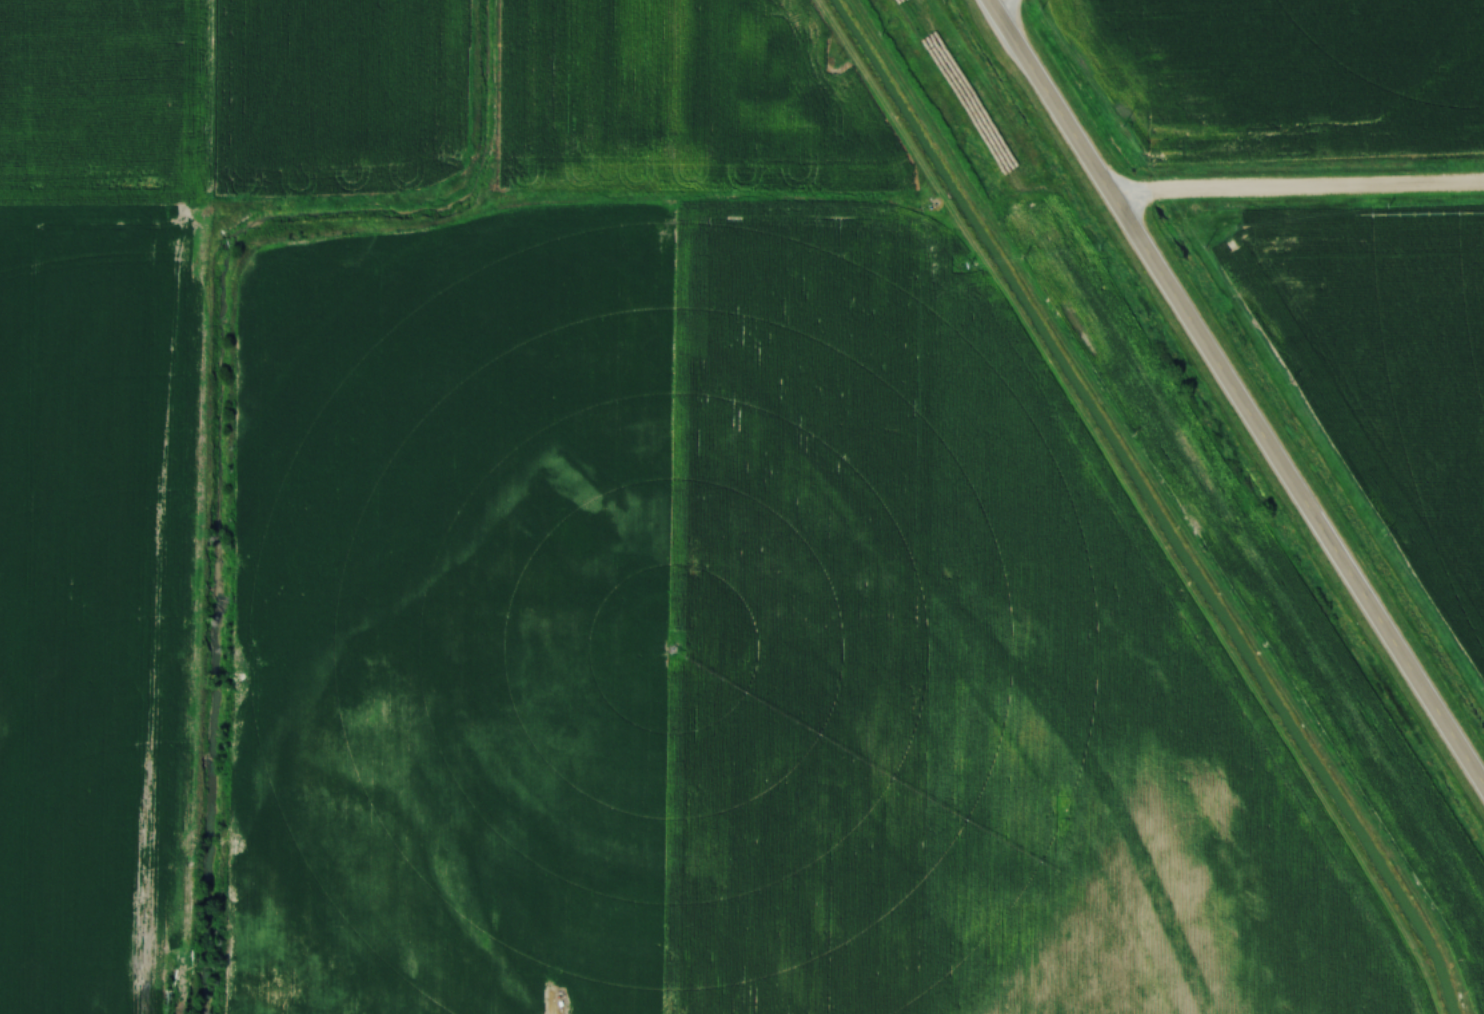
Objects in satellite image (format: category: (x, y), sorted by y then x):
road: (1006, 11)
road: (1297, 191)
road: (1233, 398)
road: (206, 507)

